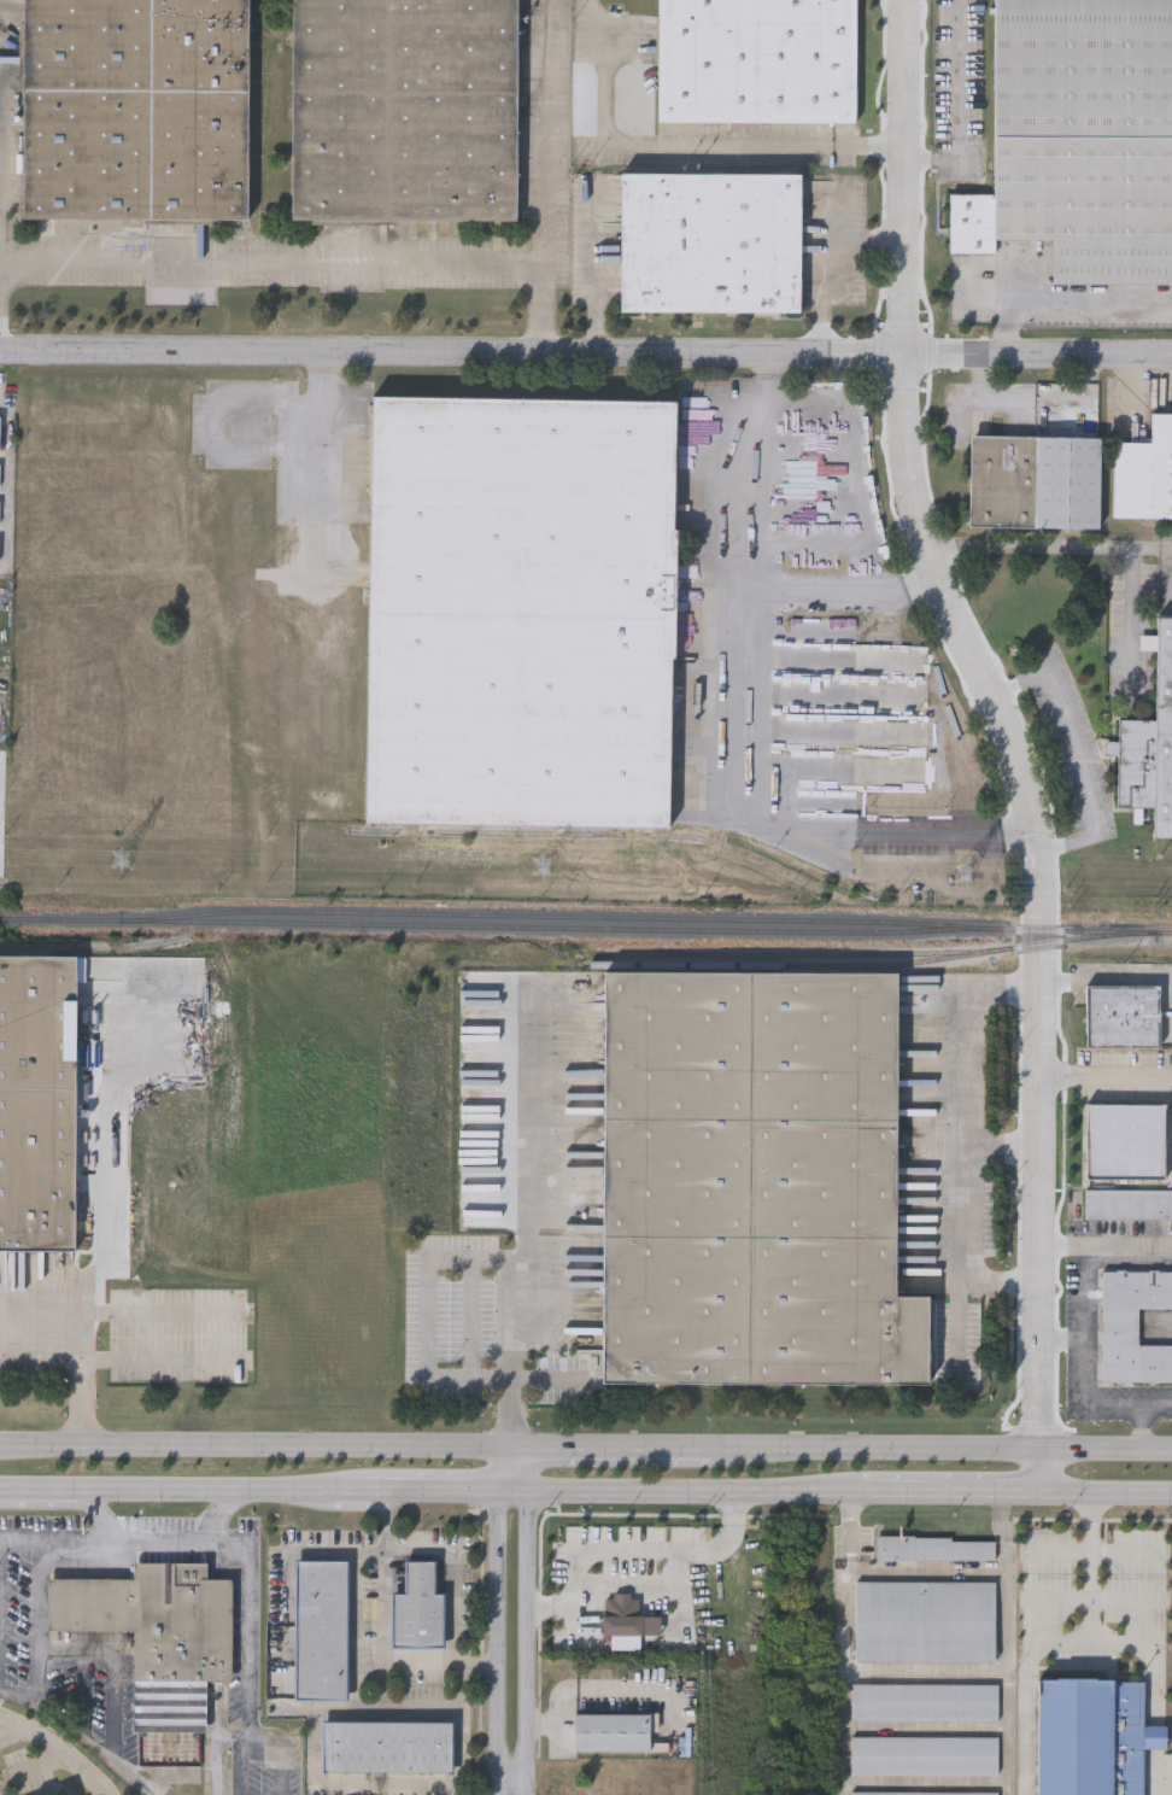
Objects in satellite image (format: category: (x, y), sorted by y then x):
building: (755, 60)
road: (961, 103)
building: (404, 106)
building: (134, 107)
building: (1085, 134)
road: (545, 154)
road: (698, 154)
building: (709, 240)
road: (313, 270)
road: (1062, 299)
road: (586, 357)
building: (1144, 470)
building: (1033, 479)
road: (1092, 548)
road: (1149, 549)
road: (751, 557)
building: (518, 606)
road: (751, 701)
road: (1002, 739)
building: (1150, 743)
road: (1071, 748)
building: (816, 807)
railway: (592, 834)
power tower: (122, 859)
power tower: (544, 869)
power tower: (965, 876)
railway: (586, 916)
railway: (550, 928)
railway: (102, 947)
railway: (871, 953)
railway: (778, 965)
road: (1100, 972)
building: (1121, 1013)
road: (1103, 1078)
building: (36, 1101)
road: (963, 1130)
building: (1125, 1138)
road: (533, 1145)
road: (1000, 1146)
building: (752, 1183)
building: (1129, 1201)
road: (1103, 1245)
road: (424, 1276)
road: (141, 1303)
building: (1132, 1323)
road: (1057, 1343)
road: (168, 1353)
road: (90, 1355)
road: (1083, 1367)
road: (549, 1380)
road: (1137, 1423)
road: (512, 1432)
road: (248, 1449)
road: (942, 1449)
road: (512, 1452)
road: (620, 1452)
road: (527, 1472)
road: (48, 1489)
road: (215, 1491)
road: (348, 1491)
road: (429, 1491)
road: (511, 1491)
road: (696, 1492)
road: (949, 1493)
road: (1102, 1496)
building: (1045, 1536)
road: (53, 1538)
road: (158, 1538)
building: (936, 1546)
road: (627, 1549)
road: (299, 1550)
road: (1060, 1551)
road: (1097, 1553)
road: (452, 1573)
building: (417, 1608)
road: (37, 1613)
building: (925, 1619)
road: (493, 1622)
building: (318, 1629)
building: (156, 1632)
road: (283, 1639)
road: (526, 1643)
road: (848, 1644)
road: (1006, 1644)
road: (1031, 1647)
road: (250, 1653)
road: (112, 1656)
road: (438, 1664)
road: (457, 1685)
building: (924, 1700)
road: (1, 1715)
building: (611, 1731)
road: (233, 1735)
road: (217, 1741)
building: (387, 1744)
road: (312, 1746)
road: (59, 1747)
building: (924, 1753)
road: (280, 1758)
road: (1155, 1778)
road: (509, 1787)
building: (924, 1793)

